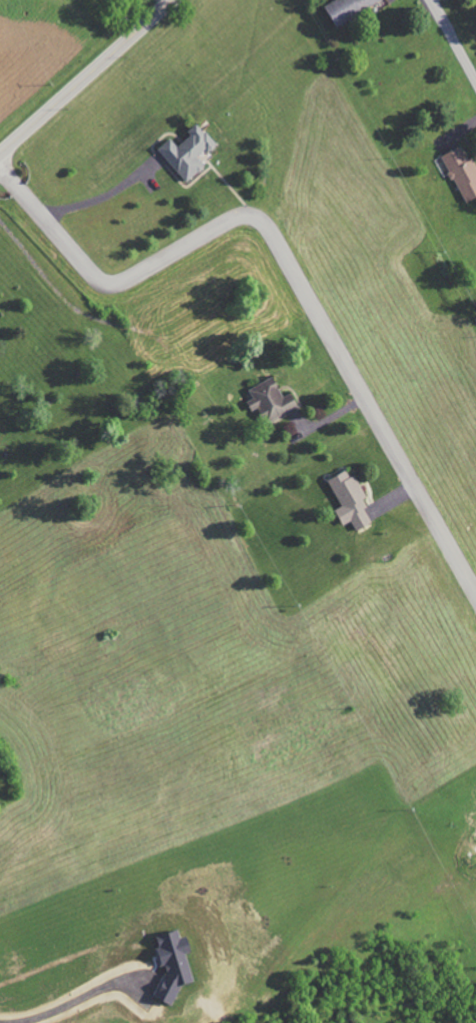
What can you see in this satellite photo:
road: (170, 0)
building: (347, 8)
road: (454, 37)
road: (86, 77)
building: (187, 152)
building: (462, 172)
road: (53, 226)
road: (183, 245)
road: (368, 399)
building: (270, 400)
building: (349, 500)
building: (172, 963)

